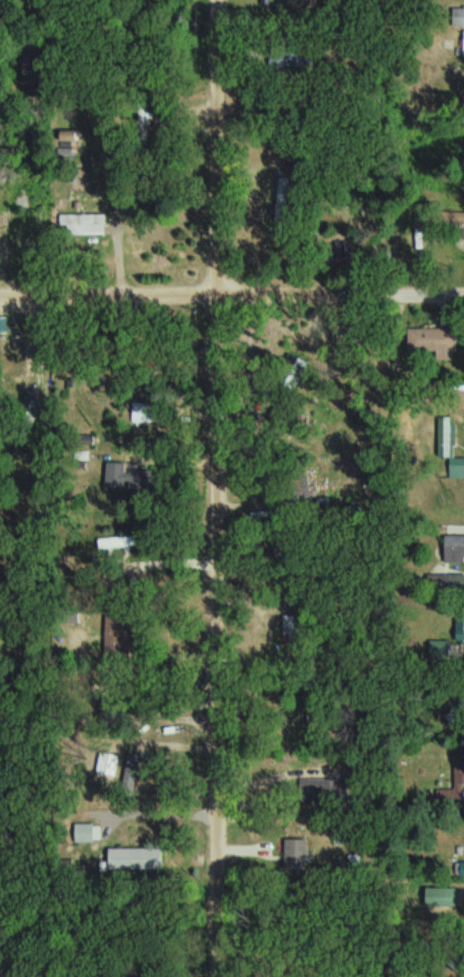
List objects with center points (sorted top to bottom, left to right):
building: (458, 16)
road: (220, 144)
building: (31, 219)
building: (85, 222)
road: (231, 289)
building: (436, 340)
building: (17, 350)
building: (143, 411)
building: (127, 469)
building: (461, 629)
road: (222, 633)
building: (442, 649)
building: (460, 771)
building: (298, 853)
building: (138, 858)
building: (463, 866)

